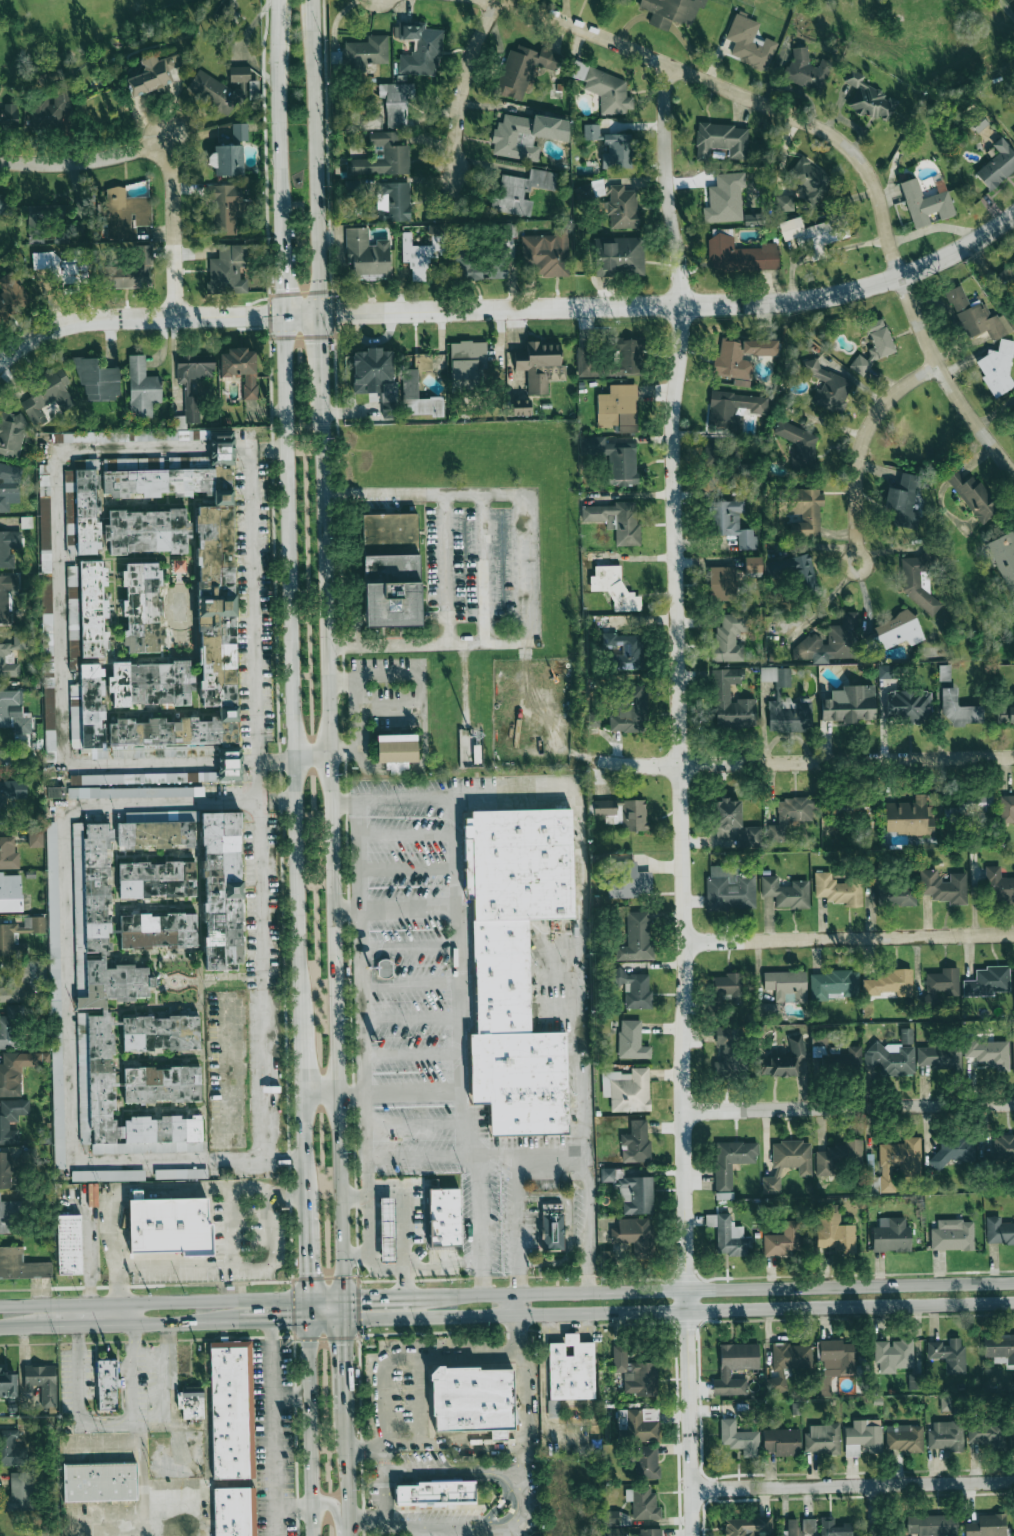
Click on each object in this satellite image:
building: (671, 12)
building: (749, 42)
building: (419, 48)
building: (367, 52)
building: (523, 69)
building: (806, 70)
building: (153, 74)
building: (243, 79)
road: (464, 85)
building: (605, 88)
building: (212, 92)
building: (869, 98)
building: (397, 103)
building: (52, 110)
building: (8, 115)
road: (277, 118)
building: (977, 122)
building: (239, 131)
building: (591, 131)
building: (525, 135)
building: (722, 140)
road: (846, 148)
building: (618, 151)
road: (314, 156)
building: (383, 156)
building: (226, 159)
road: (83, 160)
building: (996, 167)
building: (808, 180)
building: (520, 190)
building: (725, 198)
building: (393, 201)
building: (784, 202)
building: (3, 203)
building: (924, 203)
building: (226, 207)
building: (622, 207)
building: (125, 212)
building: (46, 213)
road: (172, 229)
building: (813, 232)
building: (35, 238)
building: (422, 251)
building: (547, 252)
building: (740, 255)
building: (366, 256)
building: (619, 256)
building: (473, 261)
building: (64, 267)
building: (227, 270)
building: (131, 271)
road: (282, 275)
building: (1005, 277)
building: (12, 294)
road: (675, 305)
road: (300, 313)
traffic signals: (318, 313)
traffic signals: (283, 314)
building: (976, 316)
road: (135, 317)
building: (874, 346)
building: (628, 355)
road: (319, 358)
building: (422, 361)
building: (586, 361)
building: (540, 365)
building: (467, 366)
building: (997, 367)
building: (240, 368)
building: (375, 376)
building: (97, 379)
building: (410, 383)
building: (827, 386)
building: (142, 388)
building: (187, 389)
building: (46, 396)
building: (520, 407)
building: (618, 408)
building: (733, 408)
building: (1012, 412)
building: (12, 434)
road: (859, 443)
building: (799, 444)
road: (221, 447)
road: (259, 450)
building: (730, 453)
building: (616, 458)
building: (9, 486)
road: (428, 494)
building: (972, 495)
building: (902, 501)
building: (801, 510)
building: (627, 523)
building: (732, 523)
building: (147, 530)
building: (8, 547)
building: (179, 565)
building: (752, 566)
building: (390, 569)
road: (445, 569)
road: (483, 569)
building: (793, 570)
road: (847, 570)
building: (915, 580)
building: (721, 582)
building: (614, 587)
building: (6, 596)
building: (88, 606)
building: (142, 606)
road: (59, 607)
building: (47, 613)
road: (388, 616)
road: (465, 616)
road: (254, 626)
building: (894, 632)
building: (728, 638)
building: (831, 642)
road: (503, 643)
building: (625, 649)
building: (6, 655)
road: (293, 671)
building: (886, 671)
building: (944, 672)
road: (357, 676)
road: (342, 677)
building: (151, 682)
building: (731, 701)
building: (907, 704)
building: (850, 705)
road: (391, 707)
building: (629, 709)
building: (959, 709)
building: (14, 712)
building: (1005, 713)
building: (396, 748)
road: (344, 751)
road: (16, 755)
road: (313, 756)
road: (249, 761)
road: (276, 761)
road: (229, 762)
road: (846, 762)
road: (635, 766)
flagpole: (248, 769)
flagpole: (249, 775)
flagpole: (249, 781)
building: (56, 791)
building: (136, 792)
building: (10, 794)
building: (1013, 796)
road: (679, 798)
road: (277, 802)
building: (970, 804)
building: (1007, 808)
building: (623, 813)
building: (790, 815)
building: (909, 817)
building: (734, 824)
road: (406, 834)
building: (35, 836)
road: (332, 847)
building: (8, 853)
road: (407, 868)
building: (203, 870)
building: (156, 879)
building: (628, 881)
building: (944, 886)
building: (998, 886)
building: (729, 888)
building: (838, 890)
building: (1013, 890)
building: (786, 892)
building: (10, 893)
road: (259, 895)
building: (896, 895)
road: (394, 909)
building: (158, 930)
road: (849, 937)
building: (8, 938)
building: (636, 938)
road: (409, 946)
building: (515, 962)
building: (384, 968)
building: (22, 980)
building: (988, 981)
road: (580, 982)
road: (69, 983)
road: (409, 984)
building: (833, 984)
building: (890, 984)
building: (786, 985)
building: (940, 985)
road: (456, 988)
building: (727, 988)
building: (636, 989)
building: (55, 990)
building: (112, 991)
building: (769, 1009)
road: (410, 1018)
building: (10, 1025)
building: (161, 1032)
building: (906, 1036)
building: (631, 1040)
building: (818, 1045)
road: (364, 1047)
building: (725, 1053)
building: (988, 1053)
road: (411, 1054)
building: (846, 1057)
building: (940, 1057)
building: (891, 1058)
building: (785, 1059)
road: (301, 1065)
building: (17, 1070)
road: (260, 1074)
building: (162, 1083)
building: (627, 1089)
road: (397, 1096)
road: (319, 1099)
road: (848, 1109)
building: (11, 1118)
building: (636, 1142)
building: (1003, 1146)
building: (954, 1149)
road: (304, 1150)
road: (531, 1153)
building: (792, 1155)
road: (423, 1156)
building: (837, 1156)
road: (283, 1159)
building: (731, 1161)
building: (898, 1161)
building: (1013, 1161)
building: (6, 1169)
road: (551, 1171)
building: (227, 1172)
building: (181, 1173)
building: (107, 1175)
building: (609, 1176)
building: (871, 1179)
building: (771, 1182)
road: (155, 1185)
building: (636, 1195)
road: (354, 1198)
road: (417, 1199)
building: (9, 1216)
building: (445, 1217)
road: (233, 1224)
road: (517, 1224)
building: (169, 1225)
building: (552, 1227)
building: (387, 1228)
road: (568, 1228)
building: (833, 1230)
building: (998, 1231)
building: (634, 1235)
building: (952, 1235)
building: (891, 1236)
building: (730, 1237)
building: (782, 1240)
building: (69, 1244)
road: (306, 1248)
road: (89, 1254)
road: (356, 1258)
building: (21, 1265)
road: (233, 1265)
road: (431, 1266)
traffic signals: (307, 1273)
road: (427, 1282)
road: (713, 1288)
road: (377, 1292)
road: (325, 1293)
traffic signals: (364, 1293)
road: (153, 1297)
road: (518, 1305)
road: (308, 1308)
road: (678, 1311)
road: (125, 1312)
road: (326, 1322)
road: (271, 1323)
traffic signals: (287, 1323)
road: (180, 1325)
road: (80, 1327)
road: (17, 1329)
traffic signals: (344, 1343)
building: (999, 1348)
road: (344, 1351)
building: (949, 1354)
building: (893, 1355)
road: (391, 1357)
building: (837, 1358)
building: (788, 1363)
building: (734, 1367)
building: (569, 1371)
building: (635, 1373)
building: (1013, 1375)
road: (524, 1381)
building: (41, 1383)
building: (7, 1384)
building: (106, 1384)
road: (420, 1390)
road: (172, 1391)
road: (290, 1392)
building: (473, 1400)
building: (192, 1403)
building: (231, 1410)
road: (108, 1422)
road: (273, 1429)
road: (309, 1429)
road: (139, 1432)
building: (986, 1435)
building: (945, 1436)
building: (739, 1438)
building: (822, 1438)
building: (862, 1438)
building: (903, 1438)
building: (781, 1441)
road: (464, 1447)
building: (11, 1449)
road: (143, 1453)
road: (522, 1459)
road: (346, 1461)
building: (644, 1462)
road: (454, 1469)
building: (99, 1482)
road: (387, 1484)
road: (809, 1485)
building: (20, 1492)
building: (435, 1492)
building: (644, 1504)
road: (294, 1505)
road: (875, 1510)
building: (234, 1511)
road: (335, 1511)
building: (613, 1518)
road: (367, 1521)
road: (348, 1524)
road: (505, 1524)
building: (932, 1524)
building: (746, 1526)
building: (799, 1526)
building: (988, 1526)
road: (414, 1528)
building: (833, 1528)
building: (614, 1532)
building: (647, 1532)

